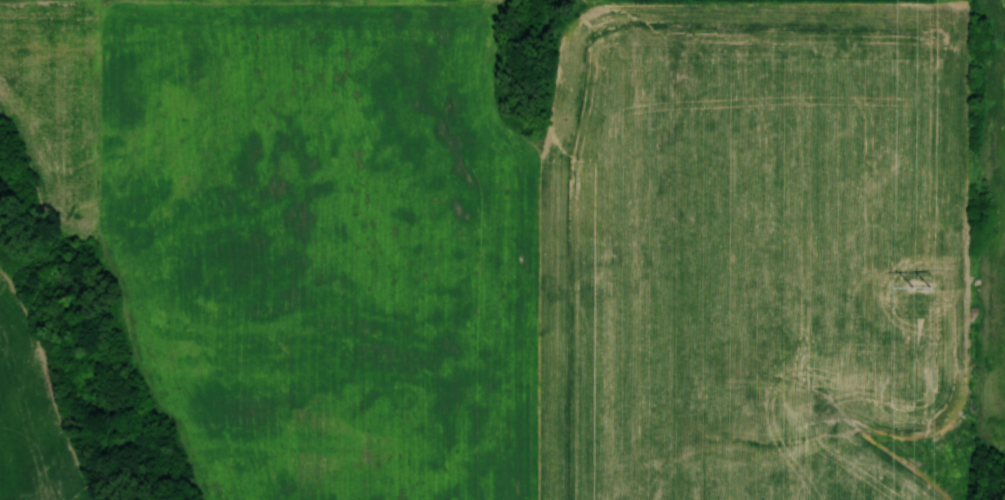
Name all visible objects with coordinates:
power tower: (923, 288)

